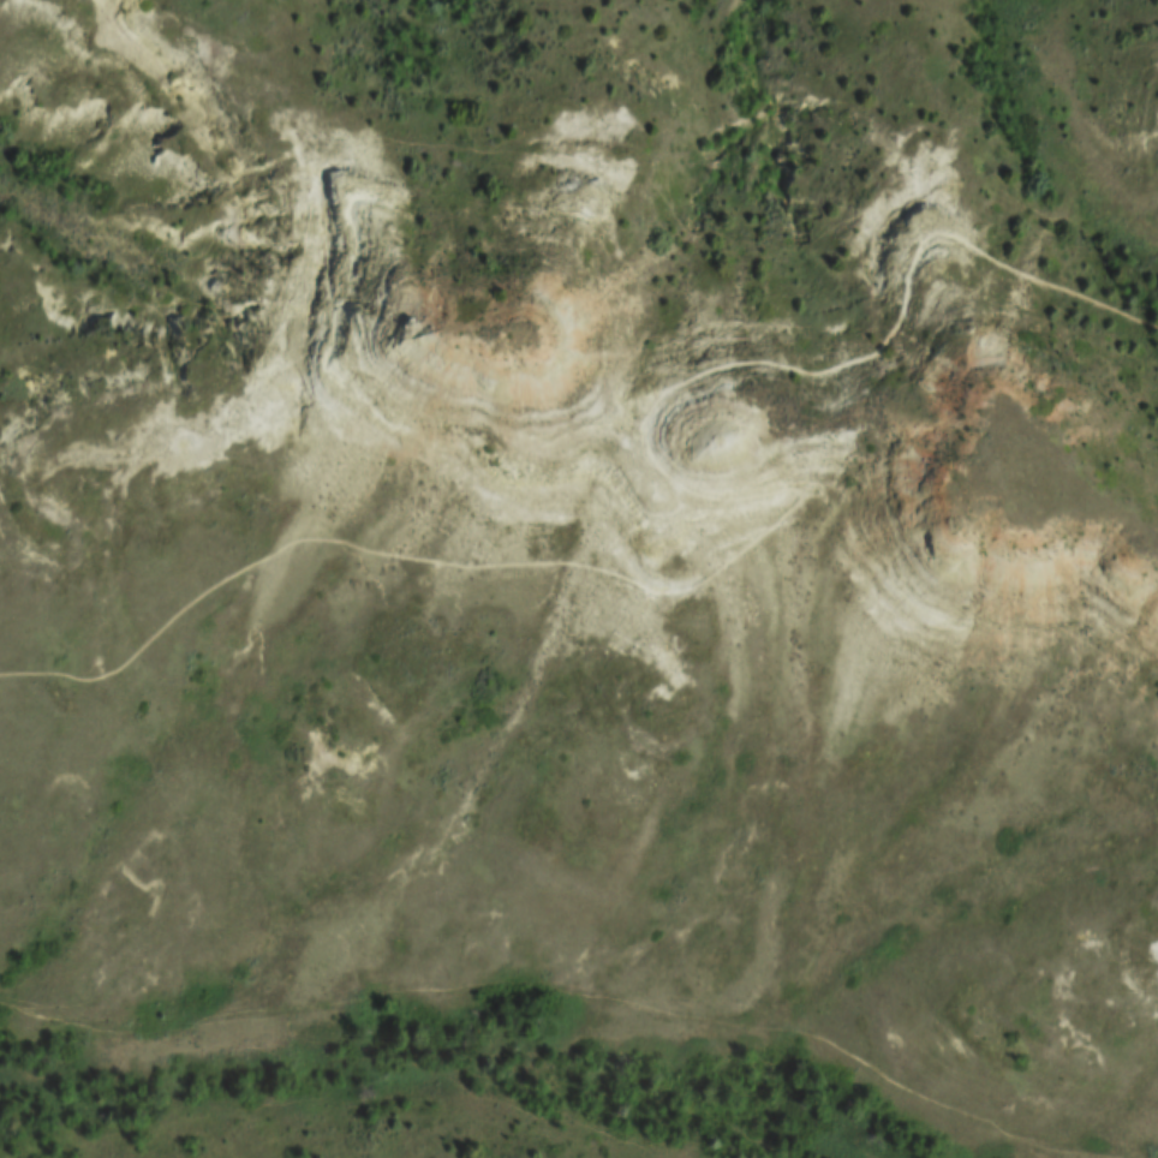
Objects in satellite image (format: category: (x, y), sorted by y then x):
road: (789, 505)

